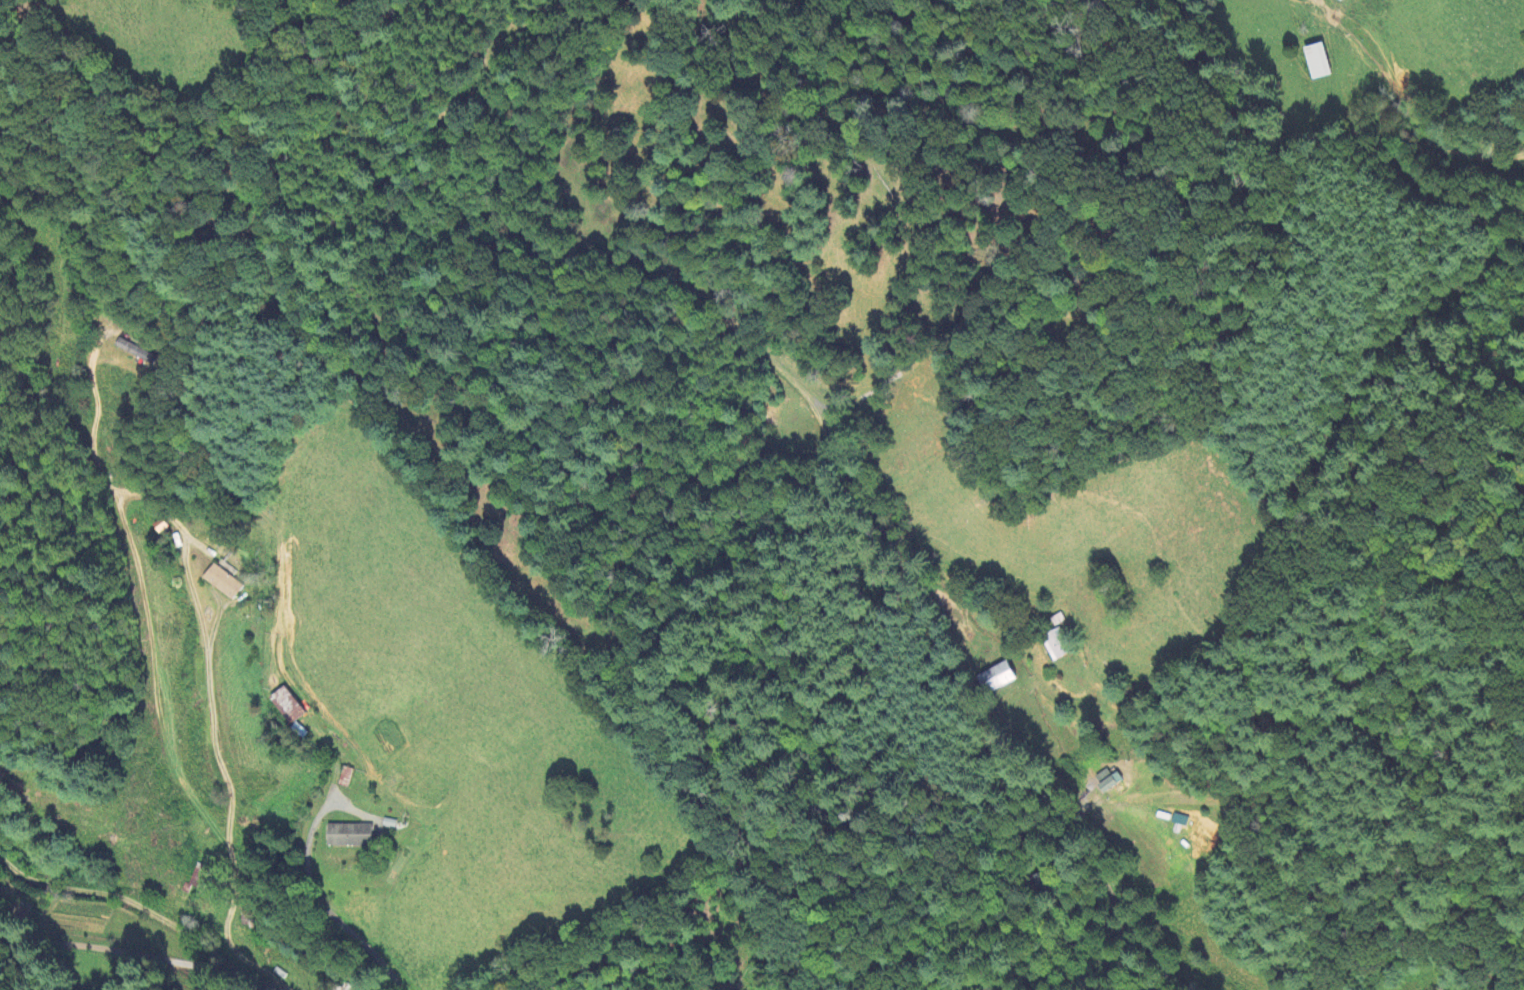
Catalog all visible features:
building: (1316, 61)
building: (132, 349)
building: (222, 582)
building: (1056, 644)
building: (997, 677)
road: (156, 688)
building: (286, 706)
building: (347, 835)
road: (323, 904)
road: (125, 952)

